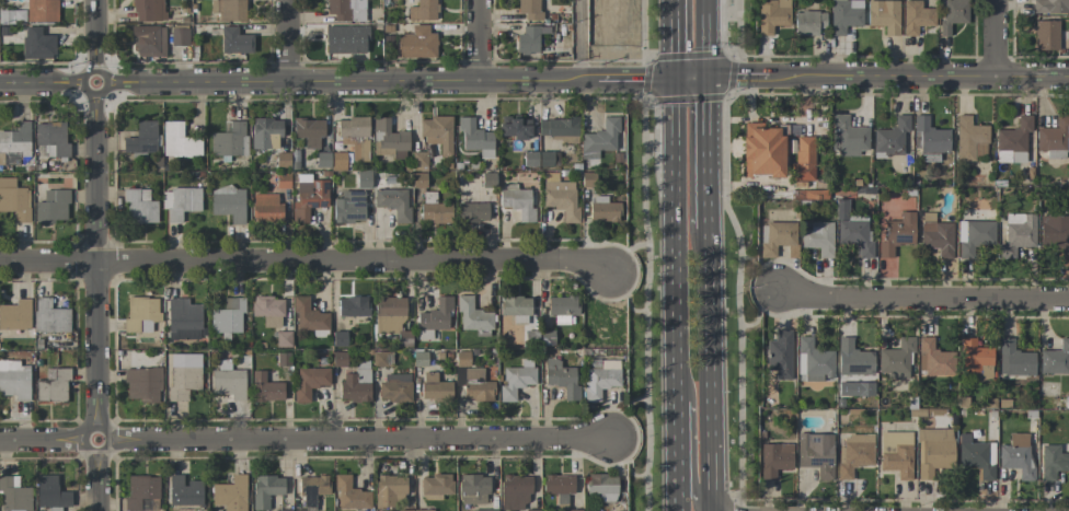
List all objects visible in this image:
building: (1050, 5)
building: (528, 9)
building: (148, 10)
building: (228, 10)
building: (345, 10)
building: (422, 10)
building: (41, 11)
building: (952, 14)
building: (12, 15)
building: (772, 15)
building: (844, 15)
building: (884, 15)
building: (916, 16)
building: (808, 22)
road: (738, 27)
road: (642, 28)
building: (1046, 35)
building: (179, 37)
road: (711, 37)
building: (529, 38)
road: (675, 38)
road: (992, 38)
building: (345, 39)
road: (582, 39)
building: (149, 40)
building: (234, 40)
road: (288, 40)
road: (476, 40)
building: (416, 43)
building: (36, 44)
road: (647, 57)
traffic signals: (712, 77)
road: (889, 77)
road: (693, 78)
traffic signals: (676, 79)
road: (337, 81)
building: (352, 127)
building: (558, 127)
building: (515, 128)
building: (309, 131)
building: (265, 132)
building: (437, 133)
building: (848, 136)
building: (890, 137)
building: (930, 137)
building: (141, 138)
building: (475, 138)
building: (1054, 138)
building: (50, 139)
building: (229, 139)
building: (389, 139)
building: (599, 139)
building: (970, 139)
building: (179, 141)
building: (1013, 141)
building: (357, 148)
building: (761, 151)
road: (712, 152)
building: (804, 158)
building: (281, 159)
building: (418, 159)
building: (537, 159)
building: (338, 161)
building: (418, 179)
building: (281, 181)
building: (363, 181)
building: (308, 196)
building: (560, 197)
building: (14, 199)
building: (517, 201)
building: (180, 202)
building: (393, 202)
building: (228, 204)
building: (139, 206)
building: (51, 207)
building: (349, 207)
building: (266, 208)
building: (604, 209)
building: (841, 209)
building: (434, 210)
building: (472, 212)
building: (897, 234)
building: (936, 234)
building: (1018, 234)
building: (855, 235)
building: (1055, 235)
building: (974, 236)
building: (818, 237)
building: (777, 239)
road: (95, 255)
road: (304, 260)
road: (676, 294)
road: (924, 298)
road: (736, 299)
road: (645, 301)
building: (353, 306)
building: (515, 307)
building: (562, 309)
building: (267, 310)
building: (140, 314)
building: (472, 314)
building: (15, 315)
building: (308, 315)
building: (390, 315)
building: (436, 315)
building: (49, 316)
building: (228, 316)
building: (183, 320)
building: (284, 337)
building: (340, 338)
building: (780, 353)
building: (974, 356)
building: (380, 358)
building: (853, 358)
building: (283, 359)
building: (338, 359)
building: (896, 359)
building: (1014, 359)
building: (1055, 359)
building: (813, 361)
road: (712, 369)
building: (183, 375)
building: (561, 378)
building: (601, 379)
building: (14, 380)
building: (228, 380)
building: (516, 380)
building: (309, 382)
building: (141, 384)
building: (53, 385)
building: (355, 385)
building: (475, 385)
building: (394, 387)
building: (434, 387)
building: (265, 388)
building: (855, 388)
road: (303, 439)
building: (933, 452)
road: (687, 453)
building: (816, 453)
building: (896, 453)
building: (854, 454)
building: (1016, 455)
building: (977, 456)
building: (774, 458)
building: (1053, 461)
building: (559, 484)
building: (436, 486)
building: (602, 486)
building: (312, 489)
building: (389, 489)
building: (472, 489)
building: (266, 490)
building: (183, 491)
building: (514, 491)
building: (50, 493)
building: (141, 493)
building: (230, 493)
building: (14, 495)
building: (349, 495)
building: (283, 510)
building: (299, 510)
building: (416, 510)
building: (484, 510)
building: (574, 510)

